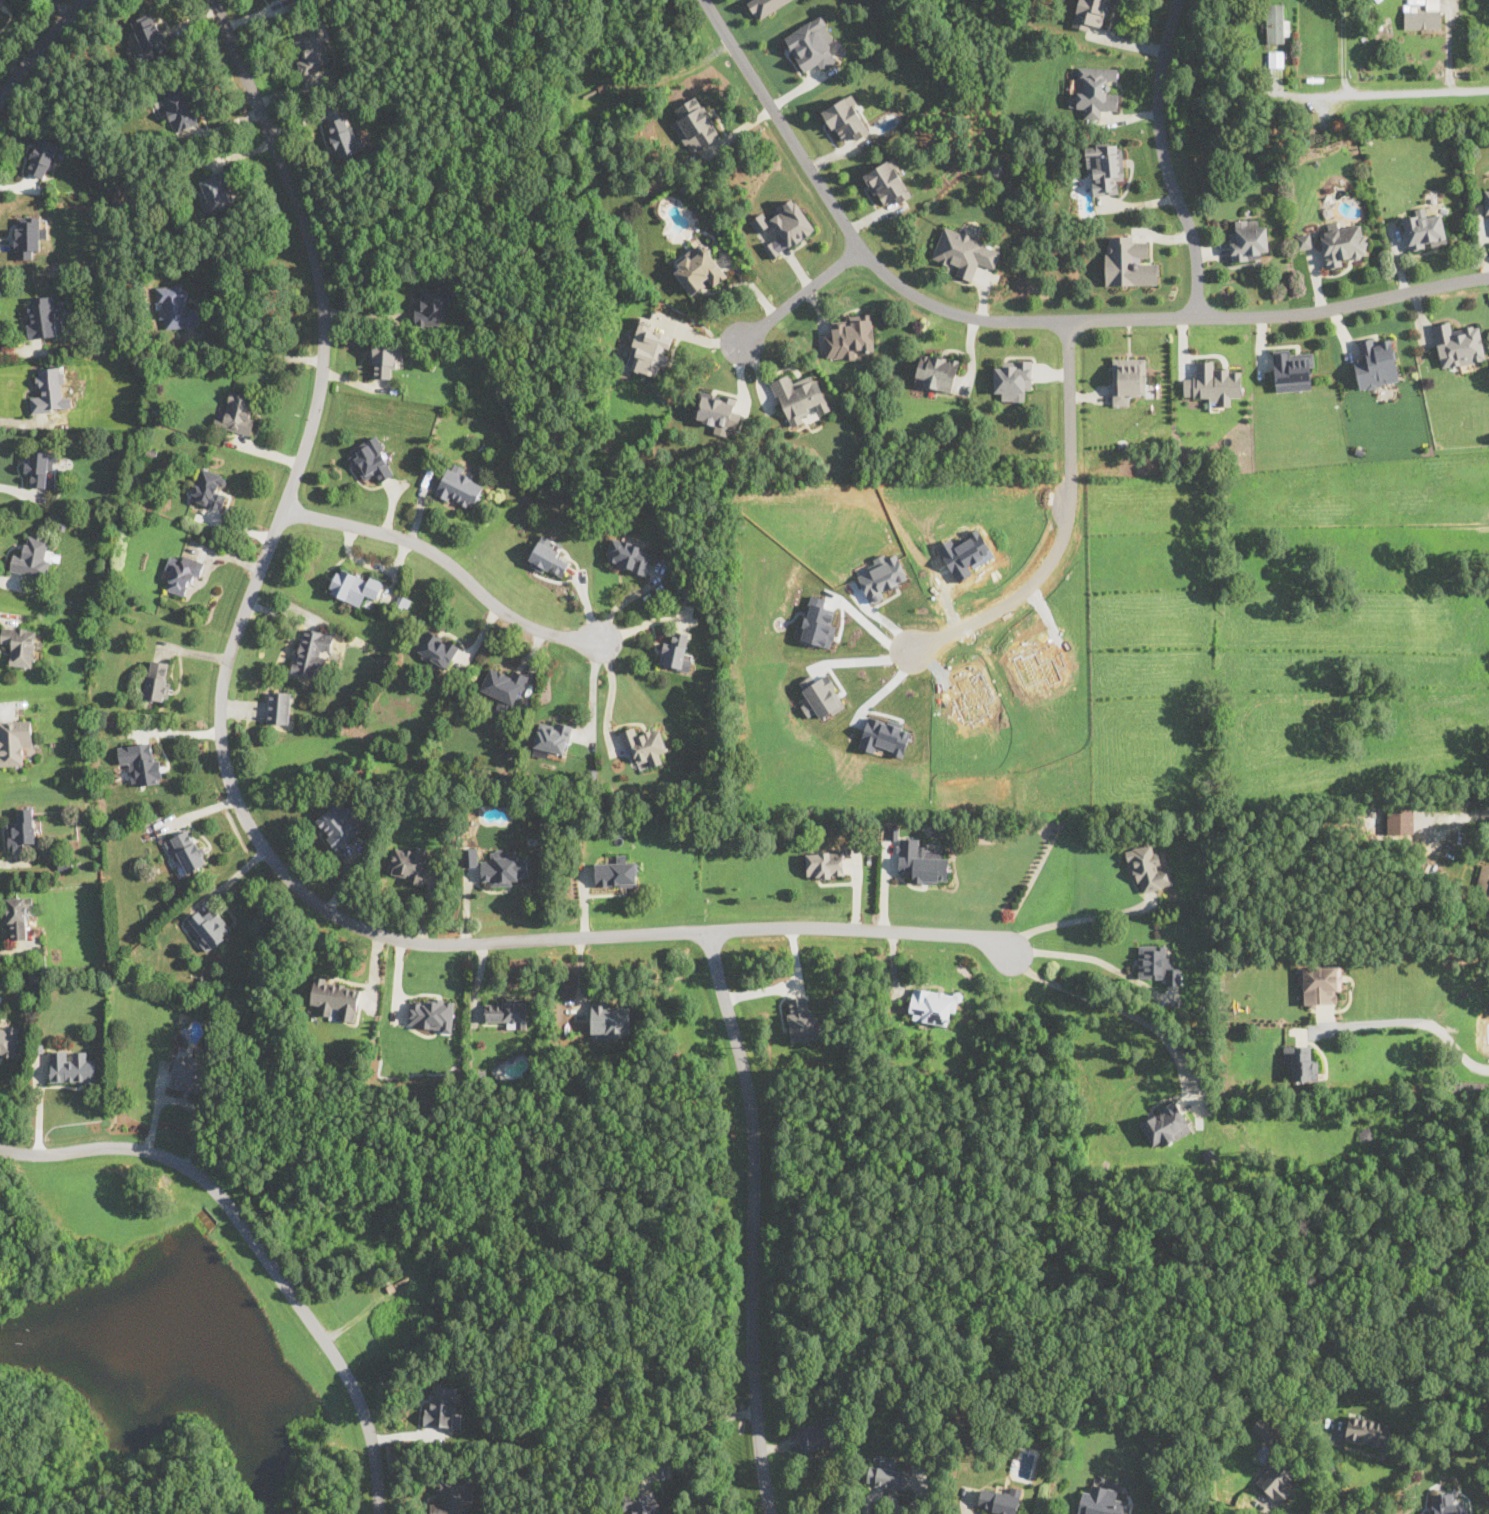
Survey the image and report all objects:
building: (4, 4)
building: (764, 6)
building: (1091, 14)
building: (1419, 14)
building: (1277, 22)
building: (150, 35)
road: (37, 44)
building: (811, 45)
road: (1343, 47)
building: (311, 49)
building: (1276, 58)
building: (1097, 90)
road: (1395, 94)
building: (180, 106)
building: (846, 118)
building: (695, 123)
building: (343, 136)
building: (43, 156)
road: (1167, 159)
building: (1104, 168)
building: (887, 183)
building: (217, 190)
building: (1486, 200)
building: (784, 226)
building: (1424, 229)
building: (27, 237)
building: (1248, 240)
building: (1303, 242)
building: (1343, 244)
building: (964, 251)
building: (1128, 261)
building: (699, 267)
road: (802, 295)
building: (175, 306)
building: (432, 306)
building: (42, 316)
road: (1018, 320)
building: (849, 337)
building: (1458, 344)
building: (653, 348)
road: (263, 354)
building: (385, 358)
building: (1376, 362)
building: (1294, 368)
building: (936, 371)
building: (1013, 378)
building: (1128, 379)
building: (1213, 382)
building: (50, 390)
building: (799, 396)
road: (1069, 398)
building: (717, 411)
building: (237, 412)
building: (371, 459)
building: (41, 467)
building: (459, 486)
building: (209, 488)
building: (629, 555)
building: (34, 557)
building: (548, 557)
road: (450, 562)
building: (182, 573)
building: (354, 586)
road: (1021, 586)
building: (817, 624)
building: (20, 644)
building: (436, 647)
building: (676, 651)
building: (312, 653)
building: (158, 679)
building: (504, 688)
road: (594, 692)
road: (612, 695)
building: (821, 699)
building: (278, 707)
building: (884, 736)
building: (552, 737)
building: (14, 740)
building: (644, 744)
building: (141, 762)
road: (236, 799)
road: (1473, 813)
building: (1400, 820)
building: (338, 824)
building: (21, 828)
building: (186, 851)
building: (469, 857)
building: (824, 863)
building: (407, 864)
building: (504, 867)
building: (1148, 868)
building: (925, 869)
building: (615, 873)
building: (1483, 882)
building: (17, 916)
road: (1080, 918)
building: (209, 927)
road: (1093, 958)
building: (1157, 964)
road: (787, 985)
building: (1320, 985)
building: (335, 998)
building: (933, 1005)
road: (1119, 1008)
building: (507, 1012)
building: (431, 1014)
building: (801, 1018)
building: (610, 1021)
road: (1404, 1021)
building: (1484, 1031)
building: (8, 1040)
building: (1301, 1062)
building: (71, 1067)
building: (189, 1073)
building: (1164, 1124)
road: (753, 1219)
road: (258, 1246)
building: (442, 1405)
building: (1264, 1428)
road: (697, 1430)
building: (1369, 1432)
building: (814, 1437)
building: (886, 1472)
road: (1336, 1476)
building: (454, 1495)
building: (1001, 1500)
building: (1101, 1501)
building: (639, 1502)

